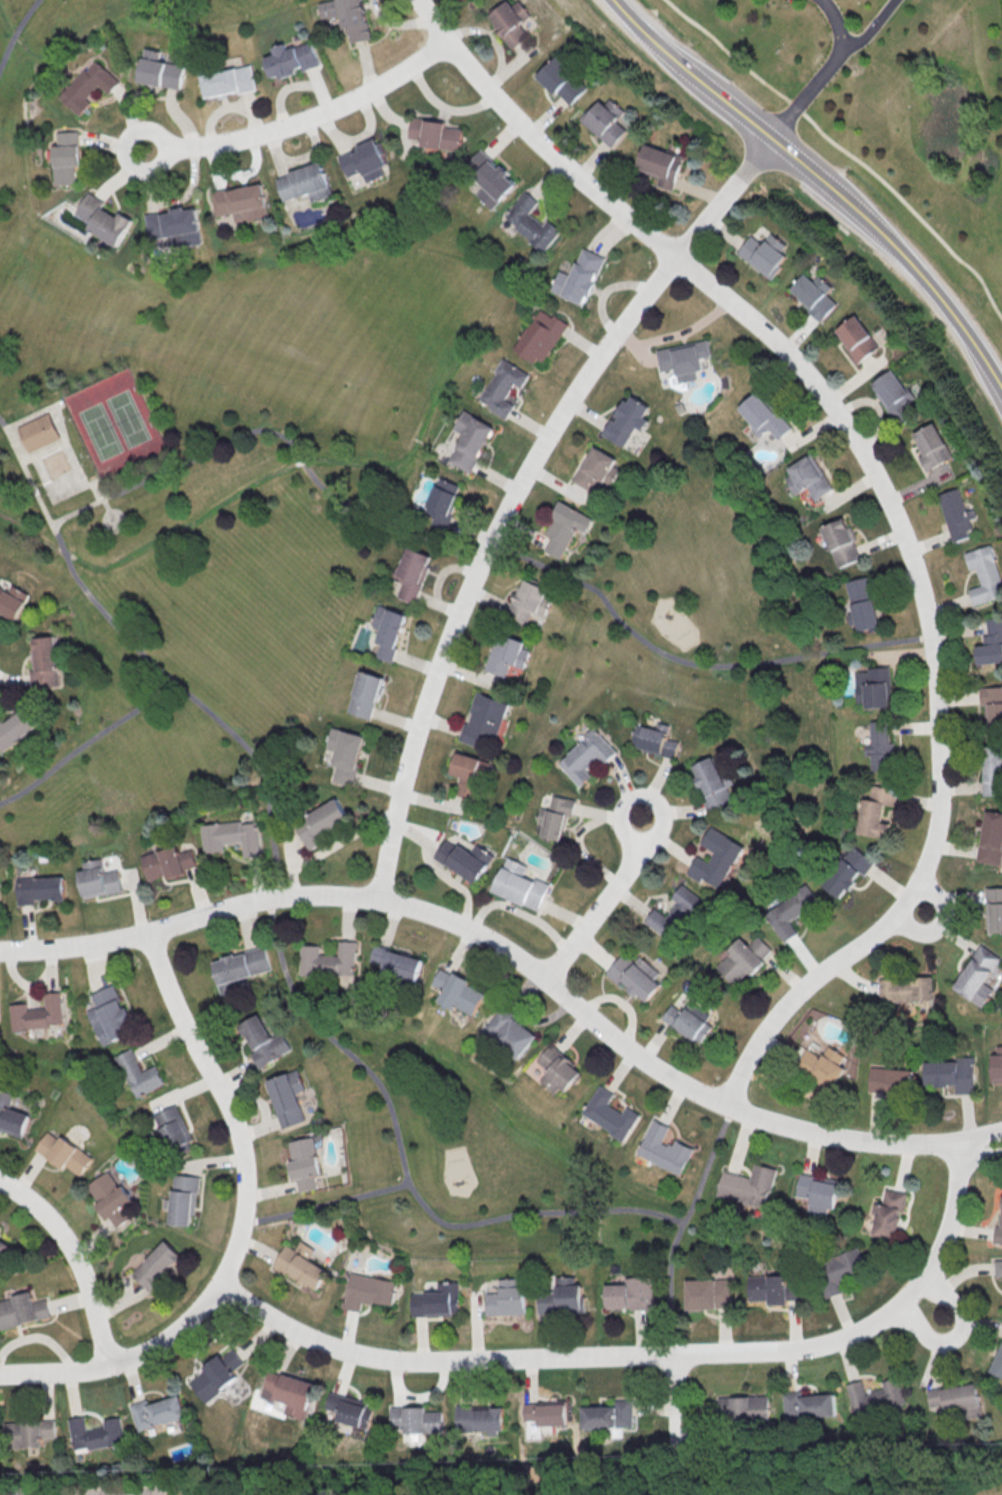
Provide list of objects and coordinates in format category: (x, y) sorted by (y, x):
parking lot: (791, 0)
building: (348, 16)
building: (509, 22)
road: (869, 27)
road: (17, 32)
building: (292, 62)
road: (821, 72)
building: (160, 73)
building: (225, 81)
building: (561, 83)
building: (89, 86)
road: (302, 120)
building: (605, 121)
building: (436, 136)
road: (843, 149)
building: (66, 156)
building: (365, 164)
building: (660, 167)
building: (489, 178)
road: (820, 180)
building: (305, 186)
building: (242, 202)
building: (103, 219)
building: (530, 222)
building: (174, 228)
building: (765, 255)
building: (578, 277)
building: (815, 296)
building: (540, 336)
building: (858, 338)
building: (684, 361)
building: (503, 387)
building: (896, 399)
building: (765, 418)
building: (627, 422)
park: (119, 429)
building: (43, 436)
building: (471, 442)
building: (934, 448)
building: (598, 471)
building: (810, 477)
park: (65, 484)
road: (518, 490)
road: (100, 494)
road: (890, 498)
building: (443, 501)
road: (115, 509)
building: (958, 517)
building: (565, 527)
building: (842, 545)
road: (481, 551)
building: (412, 573)
building: (986, 576)
building: (12, 601)
building: (530, 603)
building: (863, 604)
park: (351, 618)
building: (388, 631)
building: (992, 646)
building: (506, 654)
building: (45, 663)
building: (873, 687)
building: (365, 694)
building: (993, 709)
building: (483, 718)
building: (16, 728)
building: (654, 740)
road: (86, 741)
building: (880, 749)
building: (345, 754)
building: (584, 756)
building: (993, 769)
building: (468, 774)
building: (712, 787)
building: (875, 811)
building: (554, 816)
building: (321, 822)
building: (232, 836)
building: (992, 842)
building: (464, 859)
building: (715, 859)
building: (167, 863)
building: (847, 871)
building: (98, 879)
building: (519, 885)
building: (39, 889)
road: (603, 901)
building: (995, 909)
building: (789, 911)
building: (674, 914)
road: (274, 921)
road: (940, 922)
road: (499, 944)
building: (742, 958)
building: (329, 960)
building: (398, 962)
building: (241, 965)
building: (635, 975)
building: (978, 975)
building: (905, 989)
building: (458, 991)
building: (37, 1013)
building: (108, 1015)
building: (689, 1020)
building: (510, 1032)
building: (263, 1041)
building: (997, 1063)
building: (821, 1066)
building: (558, 1070)
building: (138, 1074)
building: (951, 1074)
building: (890, 1080)
building: (287, 1097)
road: (225, 1102)
building: (610, 1113)
building: (11, 1116)
building: (173, 1130)
road: (980, 1135)
building: (664, 1148)
building: (63, 1153)
road: (979, 1153)
building: (304, 1162)
building: (749, 1187)
building: (818, 1192)
building: (110, 1198)
building: (183, 1199)
road: (325, 1203)
building: (887, 1213)
road: (680, 1225)
building: (3, 1249)
road: (74, 1260)
building: (156, 1265)
building: (300, 1265)
building: (998, 1267)
building: (838, 1270)
building: (774, 1288)
building: (367, 1290)
building: (709, 1293)
building: (630, 1294)
building: (563, 1297)
building: (506, 1299)
building: (436, 1300)
building: (21, 1310)
road: (930, 1311)
road: (643, 1354)
road: (123, 1359)
building: (997, 1362)
building: (216, 1375)
building: (288, 1392)
building: (876, 1397)
building: (955, 1400)
road: (678, 1401)
building: (809, 1405)
building: (745, 1408)
building: (349, 1409)
building: (157, 1412)
building: (545, 1412)
building: (608, 1415)
building: (479, 1418)
building: (416, 1419)
building: (26, 1433)
building: (95, 1433)

